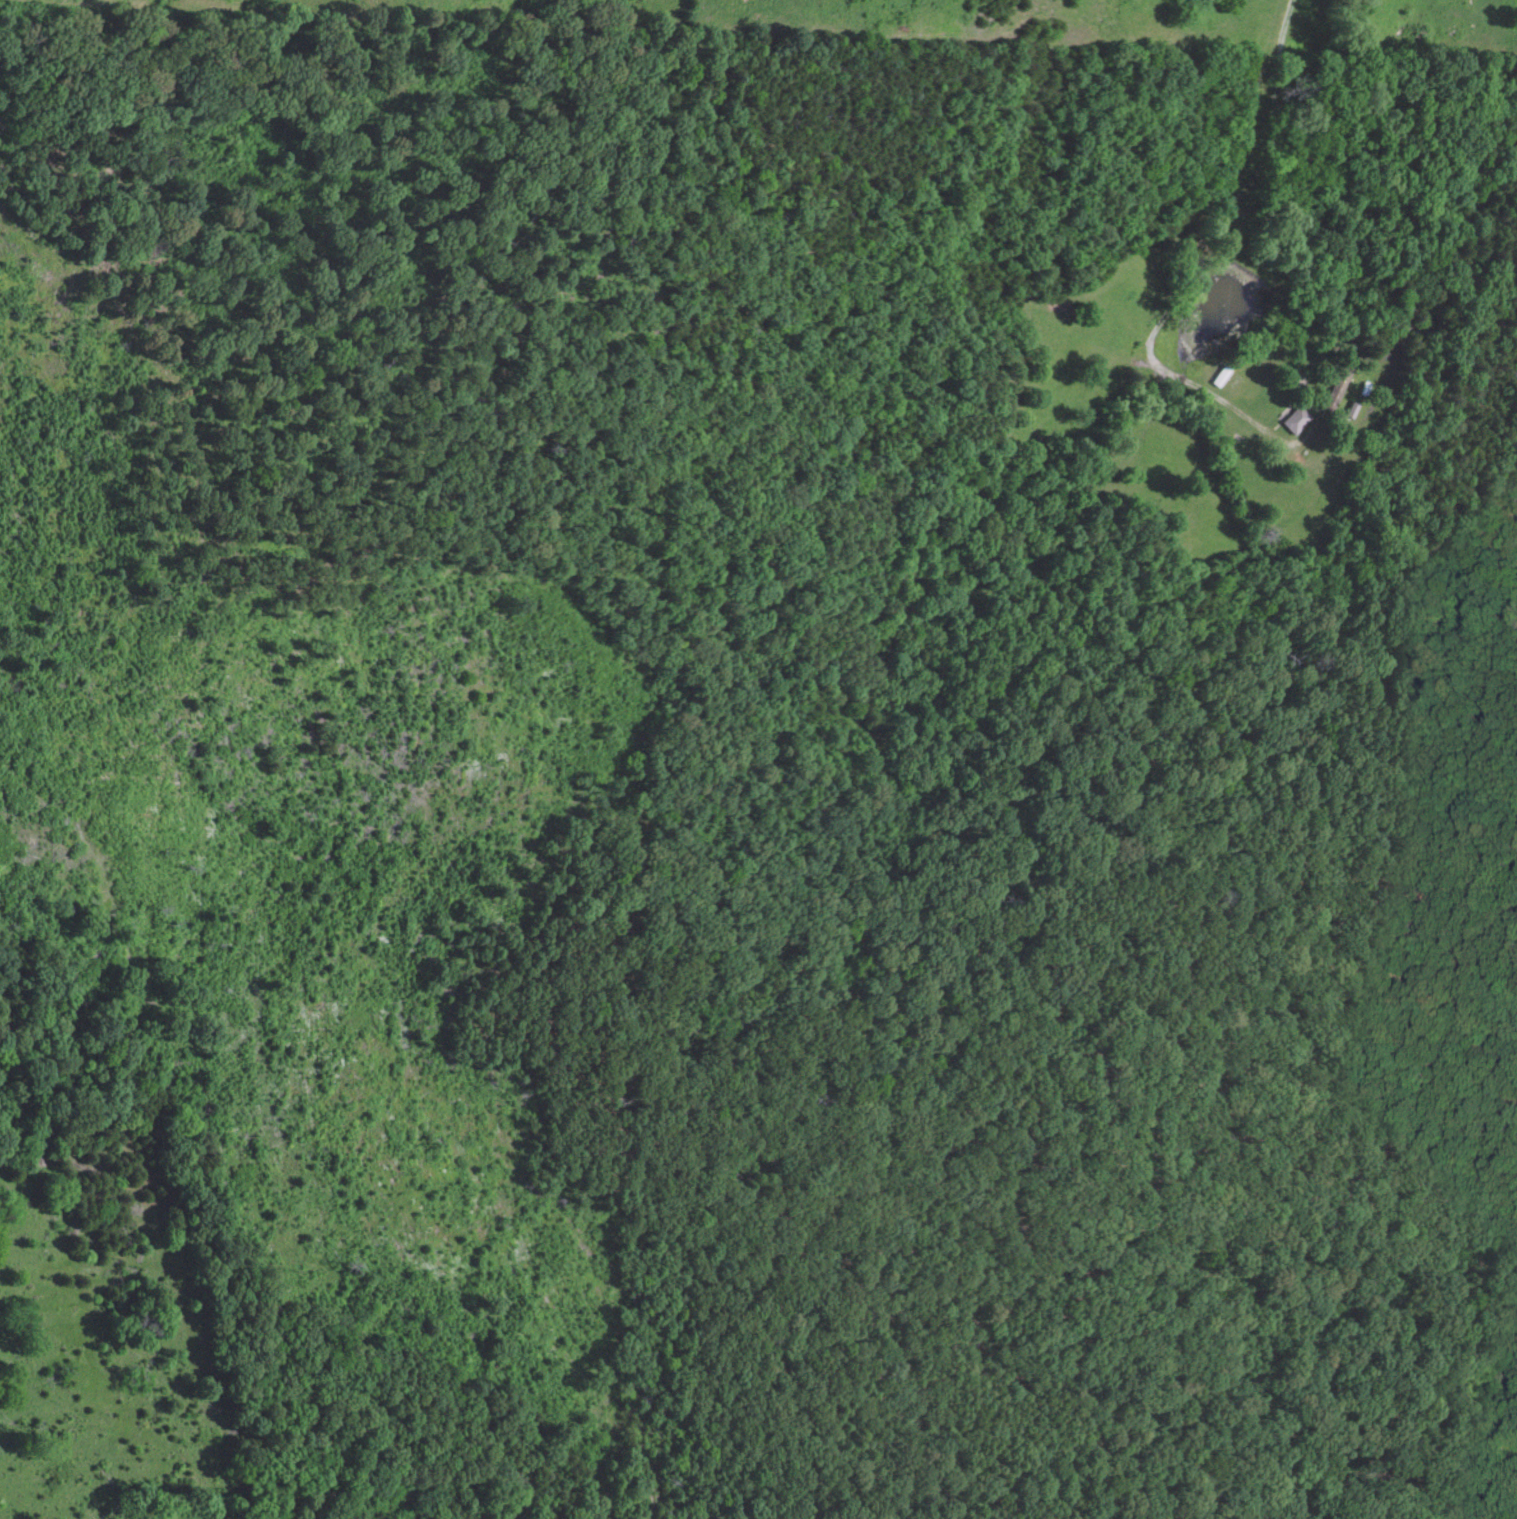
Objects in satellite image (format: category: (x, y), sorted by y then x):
building: (1293, 421)

